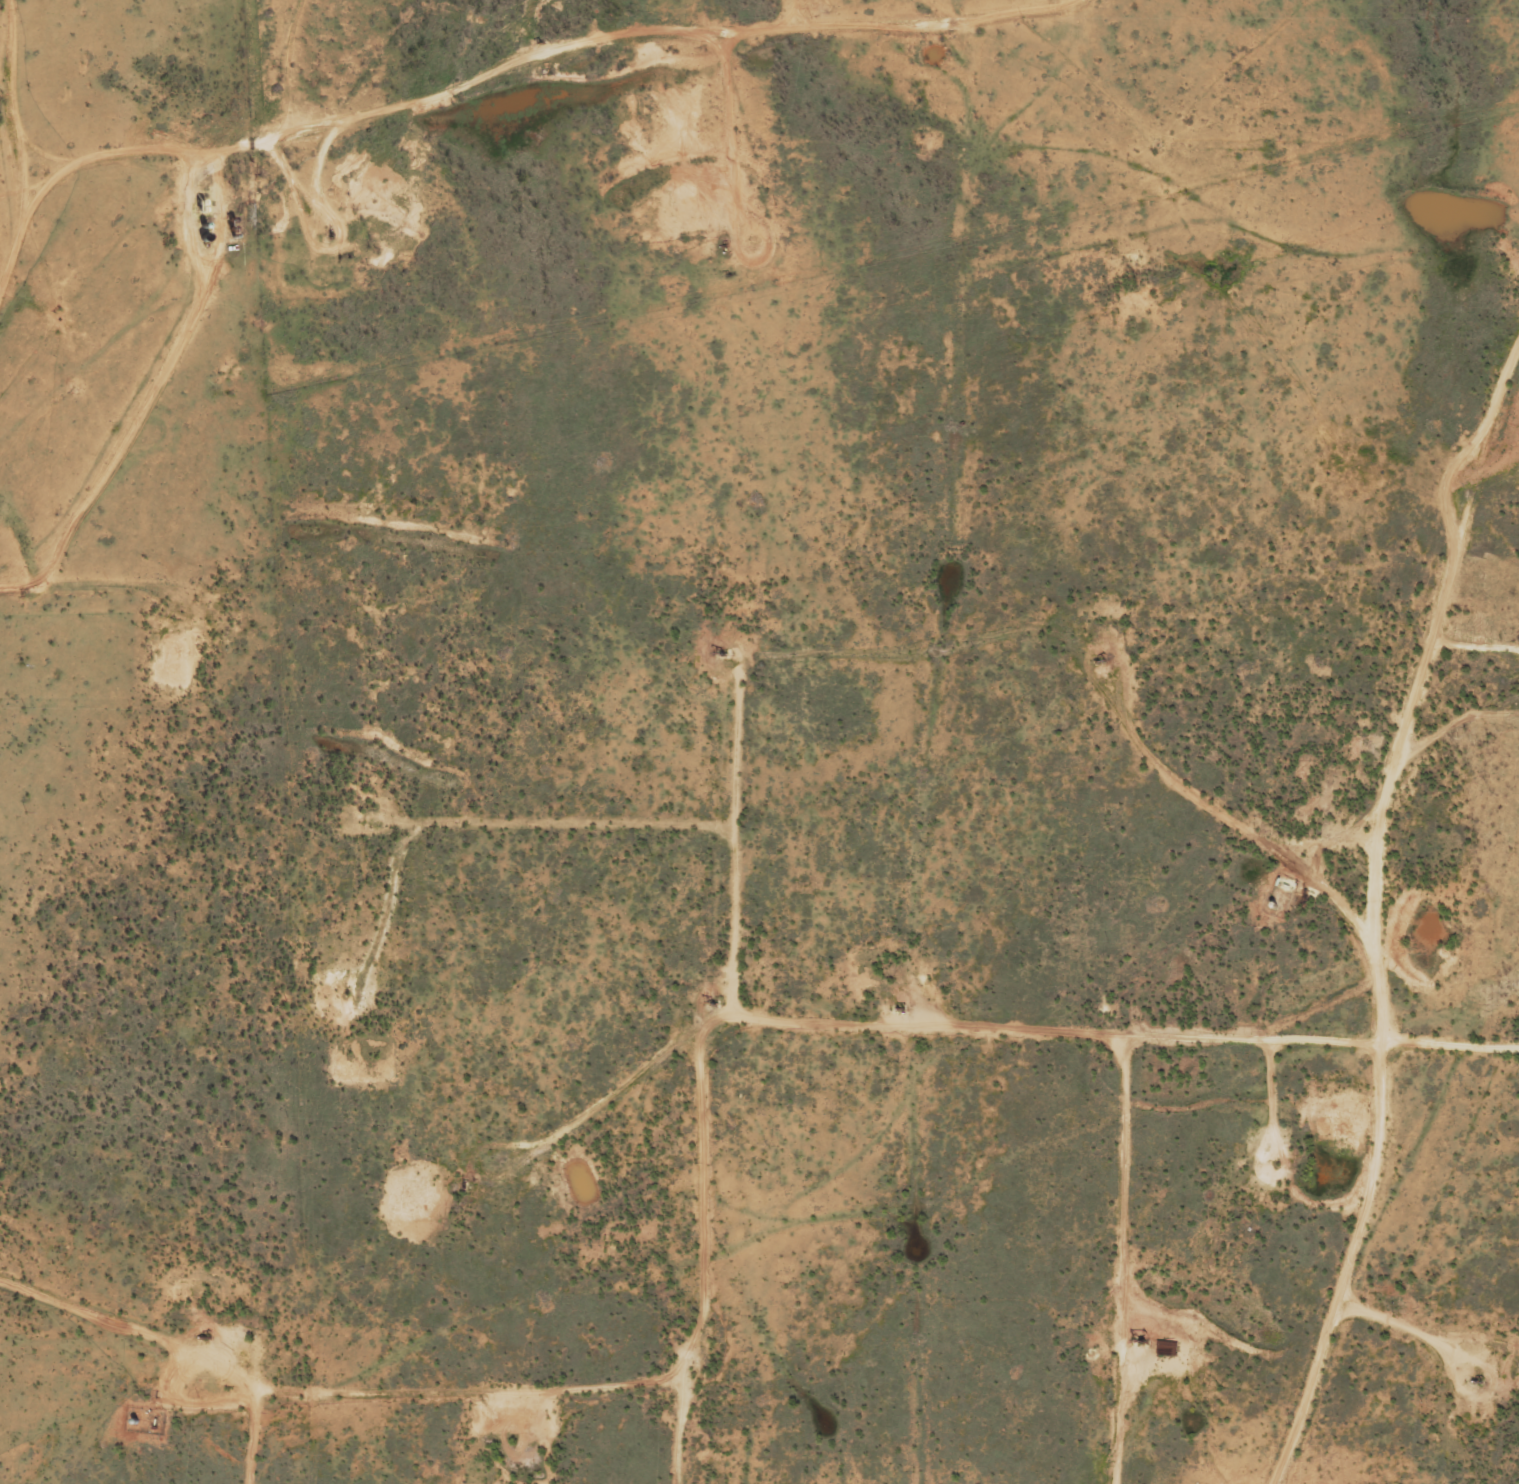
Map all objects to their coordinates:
road: (359, 142)
road: (1240, 272)
road: (931, 738)
road: (1376, 919)
road: (1137, 935)
road: (1479, 1044)
road: (1440, 1085)
road: (454, 1362)
road: (786, 1389)

